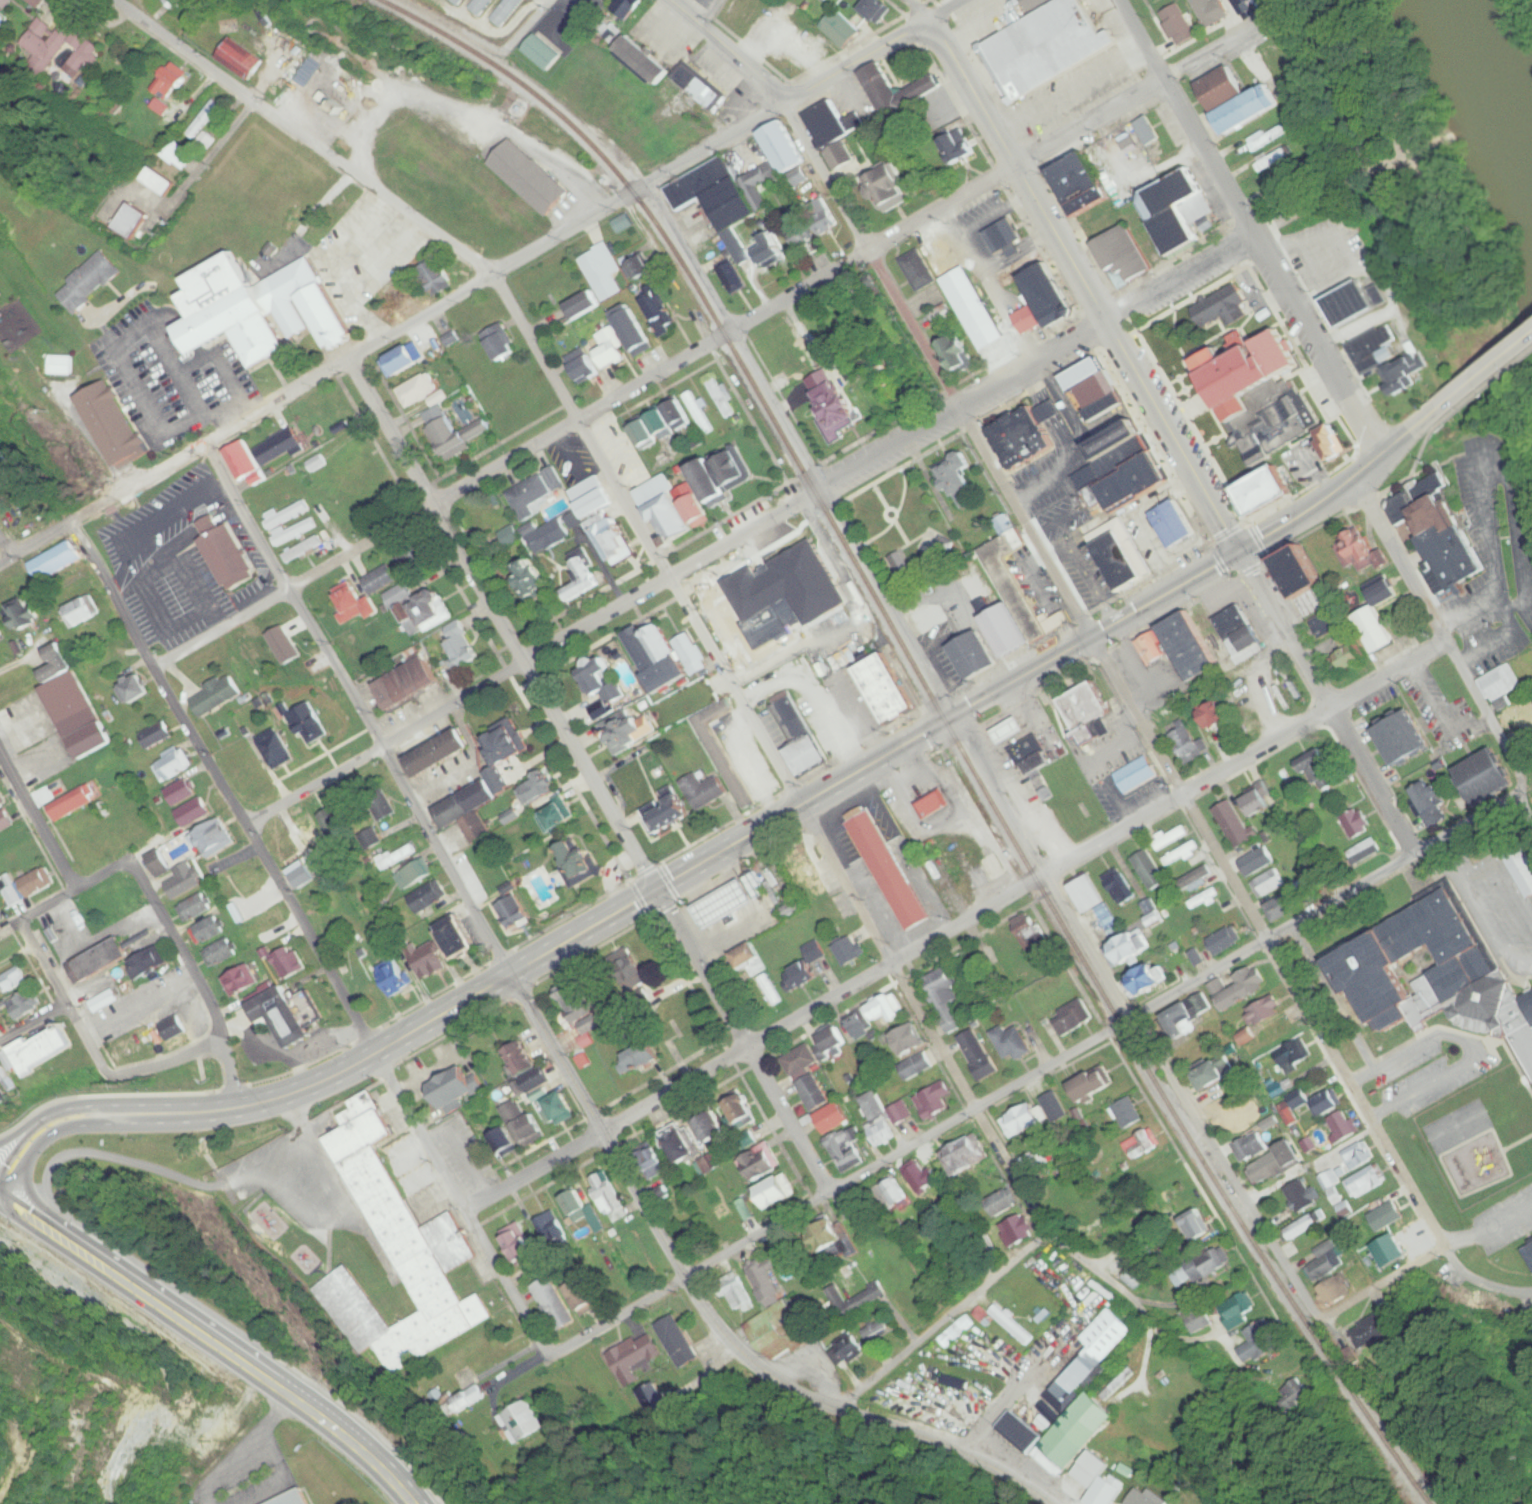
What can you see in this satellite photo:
road: (964, 0)
building: (458, 2)
building: (36, 3)
building: (850, 4)
building: (1037, 4)
building: (480, 6)
building: (625, 8)
building: (876, 10)
road: (920, 11)
building: (1212, 11)
building: (507, 12)
road: (709, 13)
road: (940, 16)
road: (443, 23)
building: (1178, 25)
building: (841, 29)
road: (524, 33)
building: (1048, 44)
building: (62, 48)
building: (544, 52)
road: (731, 52)
building: (241, 60)
road: (858, 60)
building: (643, 61)
river: (1491, 72)
building: (171, 82)
building: (697, 87)
building: (896, 89)
building: (1222, 89)
road: (791, 98)
building: (161, 107)
building: (1245, 110)
building: (205, 119)
road: (1188, 119)
building: (832, 123)
building: (1147, 131)
building: (1267, 138)
building: (207, 140)
building: (956, 146)
road: (699, 152)
building: (839, 155)
building: (180, 156)
building: (1271, 159)
road: (196, 174)
road: (997, 177)
building: (529, 178)
building: (158, 181)
building: (1081, 184)
road: (374, 185)
building: (736, 185)
building: (884, 189)
building: (329, 190)
building: (1178, 210)
building: (826, 218)
building: (130, 221)
building: (804, 232)
building: (1003, 236)
building: (770, 247)
building: (1014, 250)
building: (1123, 253)
building: (634, 270)
building: (918, 270)
building: (731, 276)
building: (435, 277)
building: (599, 281)
building: (90, 283)
road: (1086, 286)
building: (1045, 296)
building: (1350, 303)
building: (1220, 307)
building: (973, 308)
building: (259, 309)
building: (657, 314)
building: (1030, 319)
road: (1105, 322)
road: (409, 323)
building: (820, 329)
building: (633, 330)
road: (716, 337)
road: (1320, 345)
building: (786, 348)
building: (1374, 348)
building: (609, 349)
building: (955, 354)
building: (401, 361)
building: (60, 365)
building: (585, 365)
road: (1482, 367)
building: (1405, 370)
building: (1086, 373)
building: (894, 389)
building: (1098, 390)
building: (419, 391)
building: (1261, 392)
building: (721, 398)
building: (695, 407)
building: (834, 407)
building: (1105, 407)
building: (678, 413)
building: (115, 425)
building: (649, 430)
building: (446, 433)
building: (1024, 437)
building: (1117, 440)
building: (1332, 442)
building: (281, 447)
road: (983, 449)
building: (244, 462)
building: (1112, 463)
building: (734, 467)
building: (3, 469)
building: (956, 474)
building: (708, 481)
building: (1129, 483)
building: (1266, 490)
building: (532, 492)
building: (591, 497)
road: (625, 499)
road: (101, 504)
road: (427, 508)
building: (672, 508)
building: (285, 515)
building: (1173, 524)
building: (223, 529)
park: (904, 530)
building: (295, 532)
road: (746, 532)
building: (1440, 532)
building: (547, 536)
building: (612, 539)
road: (7, 549)
building: (304, 549)
building: (1362, 550)
traffic signals: (1242, 551)
building: (236, 552)
building: (413, 558)
building: (1118, 560)
building: (54, 561)
building: (1302, 572)
road: (1201, 573)
building: (526, 577)
building: (582, 579)
building: (380, 580)
building: (1019, 585)
building: (791, 586)
building: (1383, 592)
building: (399, 596)
building: (355, 603)
building: (432, 610)
building: (25, 613)
building: (79, 613)
building: (1329, 624)
building: (1008, 630)
building: (1377, 630)
building: (1240, 634)
building: (0, 638)
road: (1444, 638)
building: (294, 645)
building: (461, 645)
building: (1154, 647)
building: (1189, 647)
building: (691, 653)
building: (974, 655)
building: (246, 657)
building: (655, 657)
building: (1347, 657)
building: (757, 664)
road: (157, 674)
building: (596, 682)
building: (1500, 683)
building: (407, 684)
building: (13, 686)
building: (886, 689)
building: (134, 690)
building: (218, 695)
road: (458, 702)
road: (1328, 703)
building: (73, 704)
road: (359, 709)
building: (1085, 711)
railway: (943, 715)
building: (1214, 716)
road: (1314, 717)
building: (307, 723)
building: (621, 731)
building: (1009, 731)
building: (157, 735)
building: (799, 736)
building: (1402, 739)
building: (1187, 741)
building: (274, 748)
building: (721, 749)
building: (437, 753)
building: (1029, 753)
road: (976, 755)
building: (172, 764)
building: (1316, 769)
road: (592, 774)
building: (1137, 774)
building: (1486, 777)
building: (488, 780)
building: (532, 790)
building: (702, 791)
building: (181, 792)
building: (1257, 803)
building: (1, 804)
building: (72, 804)
building: (934, 805)
building: (1429, 805)
building: (668, 810)
building: (194, 812)
building: (374, 813)
building: (556, 816)
road: (1526, 817)
road: (37, 818)
building: (5, 821)
building: (1356, 822)
building: (1236, 825)
building: (131, 830)
building: (332, 830)
building: (213, 838)
road: (1116, 838)
building: (11, 839)
building: (310, 839)
building: (286, 849)
building: (1363, 851)
building: (1182, 854)
building: (397, 857)
building: (1258, 861)
building: (161, 863)
building: (578, 863)
building: (888, 869)
building: (1150, 870)
building: (1522, 870)
building: (806, 873)
building: (413, 876)
building: (301, 877)
building: (1192, 878)
building: (242, 880)
building: (183, 882)
building: (1271, 883)
building: (32, 886)
building: (1120, 888)
road: (73, 889)
building: (1086, 894)
building: (427, 898)
building: (1204, 899)
building: (731, 901)
building: (256, 903)
building: (195, 906)
road: (860, 906)
building: (1283, 907)
building: (1152, 913)
building: (1, 914)
building: (78, 923)
road: (9, 924)
building: (828, 924)
building: (269, 925)
building: (207, 929)
building: (1031, 933)
building: (458, 938)
road: (312, 939)
building: (1224, 941)
building: (1002, 949)
building: (850, 950)
building: (1127, 951)
building: (219, 952)
building: (747, 959)
building: (428, 960)
building: (98, 961)
building: (288, 962)
building: (810, 963)
building: (145, 965)
building: (628, 970)
building: (1433, 973)
building: (392, 978)
road: (197, 979)
building: (13, 980)
building: (240, 980)
building: (1145, 982)
building: (1244, 988)
building: (770, 990)
road: (485, 991)
road: (63, 997)
building: (945, 998)
building: (22, 1006)
building: (580, 1008)
building: (887, 1011)
building: (281, 1016)
building: (1259, 1018)
building: (1070, 1019)
building: (1183, 1020)
road: (1315, 1021)
building: (858, 1025)
road: (34, 1027)
building: (174, 1029)
building: (834, 1040)
building: (910, 1040)
building: (1012, 1043)
road: (756, 1044)
building: (39, 1049)
building: (979, 1054)
building: (640, 1057)
building: (1290, 1058)
road: (167, 1059)
building: (799, 1060)
road: (1052, 1062)
building: (917, 1066)
building: (529, 1072)
building: (1209, 1075)
building: (1091, 1085)
building: (454, 1089)
building: (0, 1091)
building: (814, 1093)
building: (935, 1100)
building: (1326, 1104)
building: (556, 1106)
building: (740, 1108)
building: (1127, 1112)
building: (833, 1118)
building: (884, 1118)
building: (1024, 1120)
building: (524, 1122)
building: (1343, 1126)
building: (712, 1128)
building: (679, 1142)
building: (1138, 1146)
building: (847, 1147)
building: (1251, 1147)
building: (963, 1157)
building: (1035, 1160)
building: (650, 1161)
building: (761, 1163)
building: (1272, 1166)
building: (920, 1175)
building: (1366, 1181)
building: (778, 1193)
building: (606, 1194)
building: (892, 1194)
building: (1304, 1195)
building: (1340, 1201)
building: (1001, 1204)
building: (580, 1207)
building: (1379, 1207)
road: (470, 1221)
building: (1196, 1225)
building: (1302, 1227)
building: (551, 1228)
building: (1020, 1229)
building: (835, 1235)
building: (1531, 1241)
building: (519, 1244)
building: (1409, 1247)
building: (404, 1248)
building: (1529, 1254)
building: (1327, 1261)
building: (1199, 1270)
road: (1102, 1276)
building: (763, 1279)
road: (1482, 1281)
road: (1383, 1283)
building: (1337, 1291)
building: (737, 1294)
building: (544, 1297)
building: (579, 1297)
building: (864, 1300)
road: (1168, 1307)
building: (1235, 1312)
road: (711, 1314)
road: (944, 1321)
building: (1010, 1325)
building: (1373, 1328)
building: (777, 1330)
building: (955, 1331)
building: (876, 1333)
building: (1260, 1342)
road: (213, 1343)
building: (672, 1343)
building: (846, 1352)
building: (633, 1355)
building: (1297, 1395)
building: (1062, 1397)
building: (467, 1399)
building: (523, 1421)
building: (1103, 1483)
building: (294, 1499)

